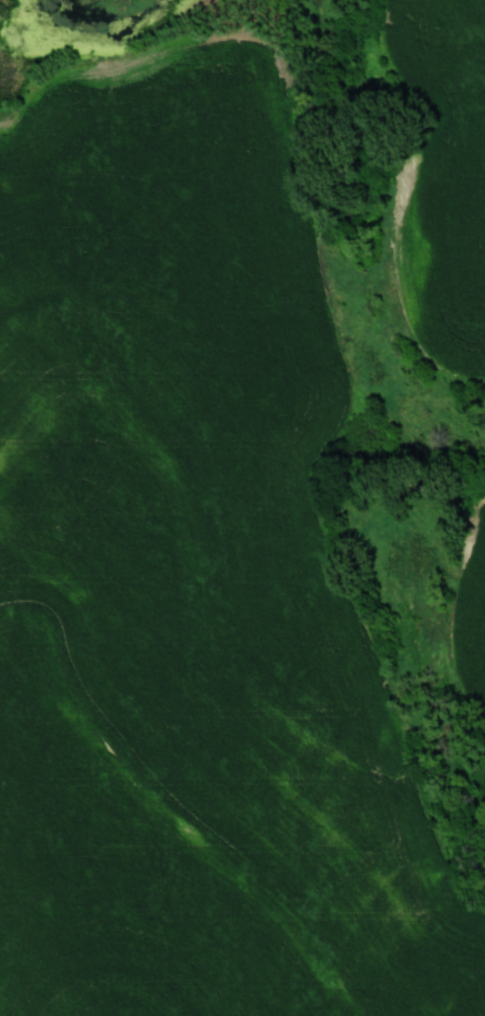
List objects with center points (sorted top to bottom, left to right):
crop: (446, 175)
crop: (190, 583)
crop: (468, 620)

